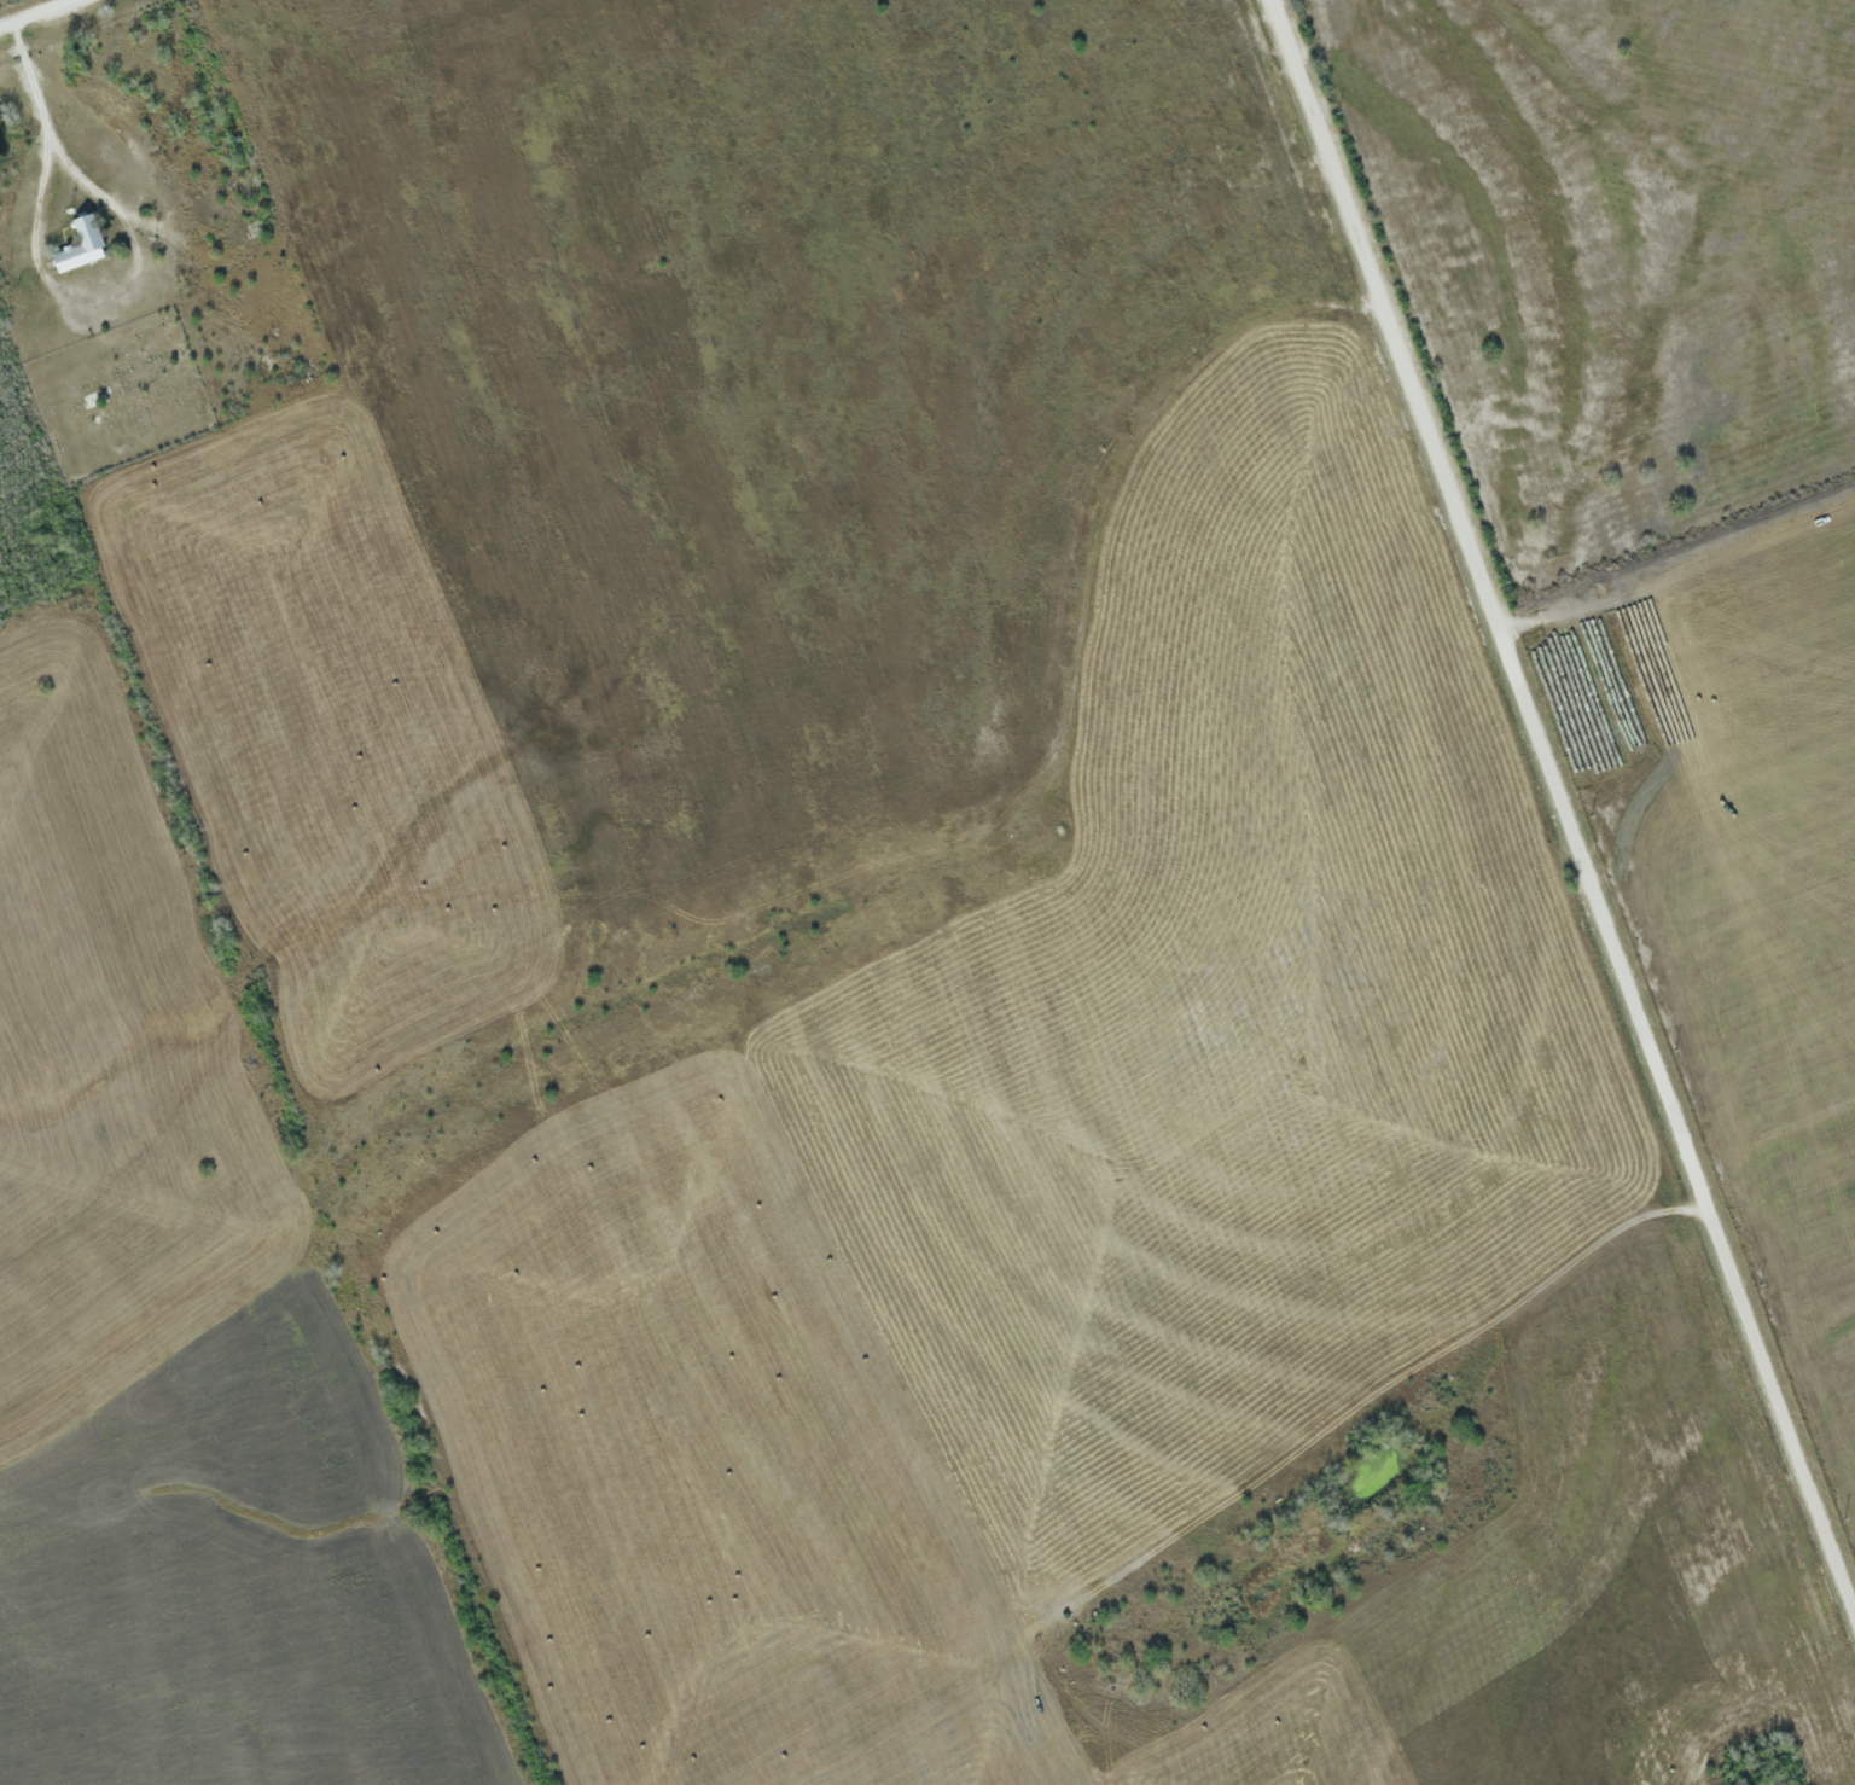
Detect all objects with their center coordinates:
road: (35, 13)
building: (78, 244)
park: (116, 394)
road: (1565, 802)

